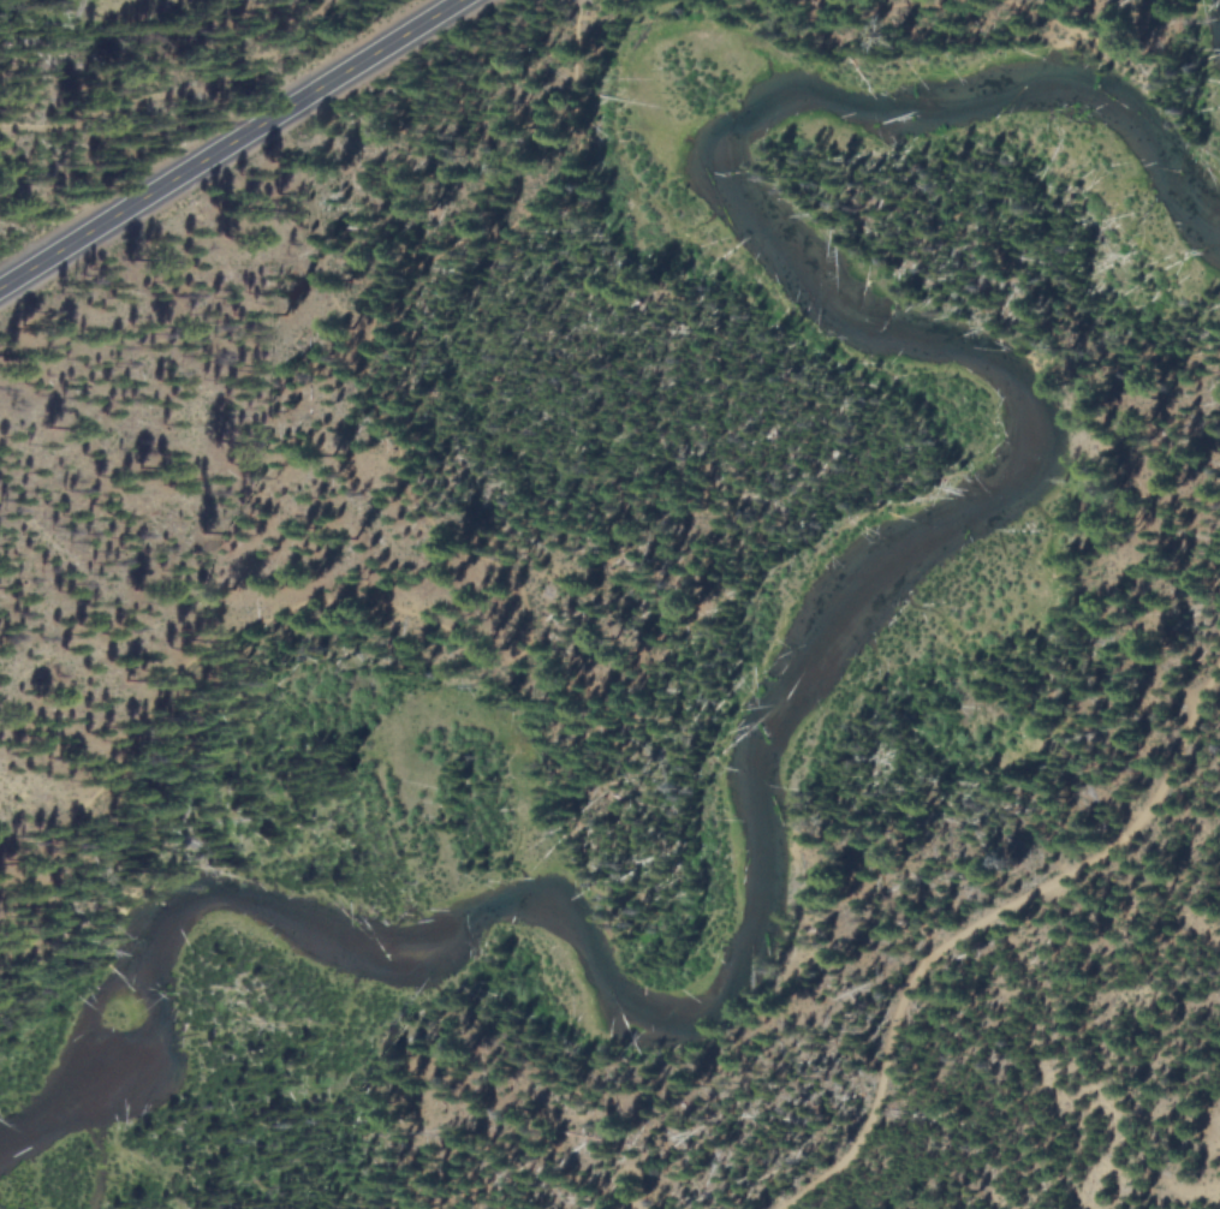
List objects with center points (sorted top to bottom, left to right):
road: (231, 144)
river: (804, 633)
road: (1005, 912)

